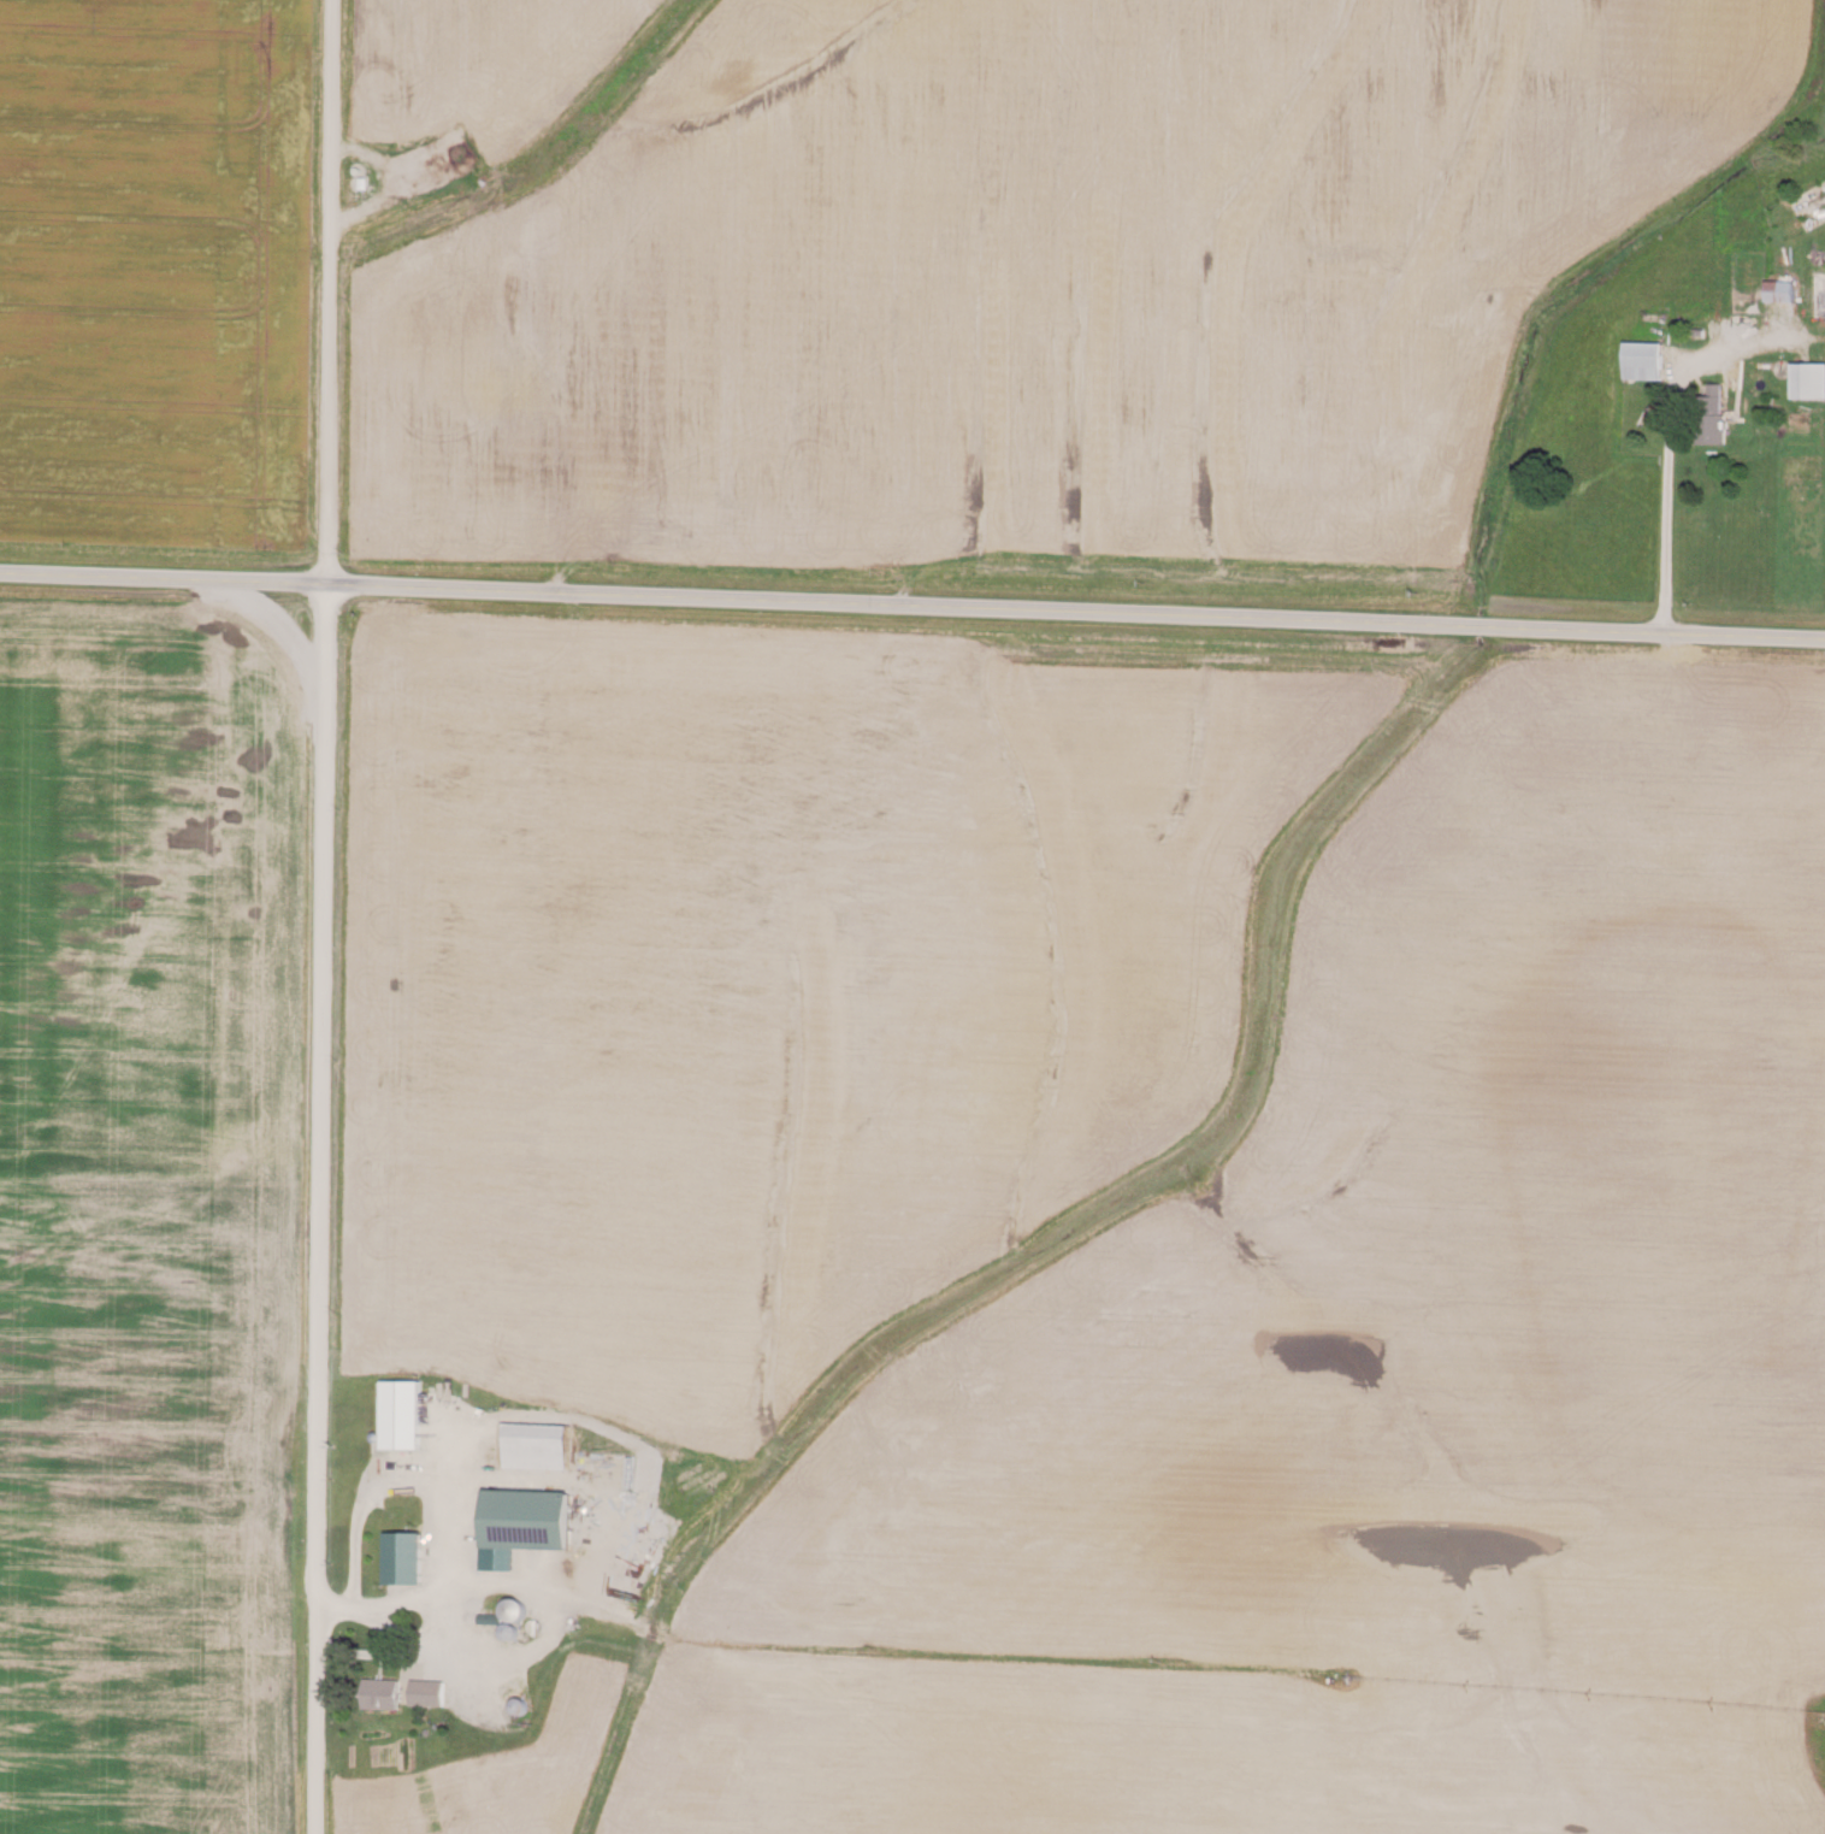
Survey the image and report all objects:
building: (1782, 288)
building: (1644, 356)
building: (1808, 376)
building: (1717, 417)
road: (1673, 427)
road: (912, 603)
road: (325, 916)
building: (403, 1411)
building: (539, 1443)
building: (527, 1521)
road: (436, 1522)
building: (408, 1556)
building: (431, 1689)
building: (385, 1691)

